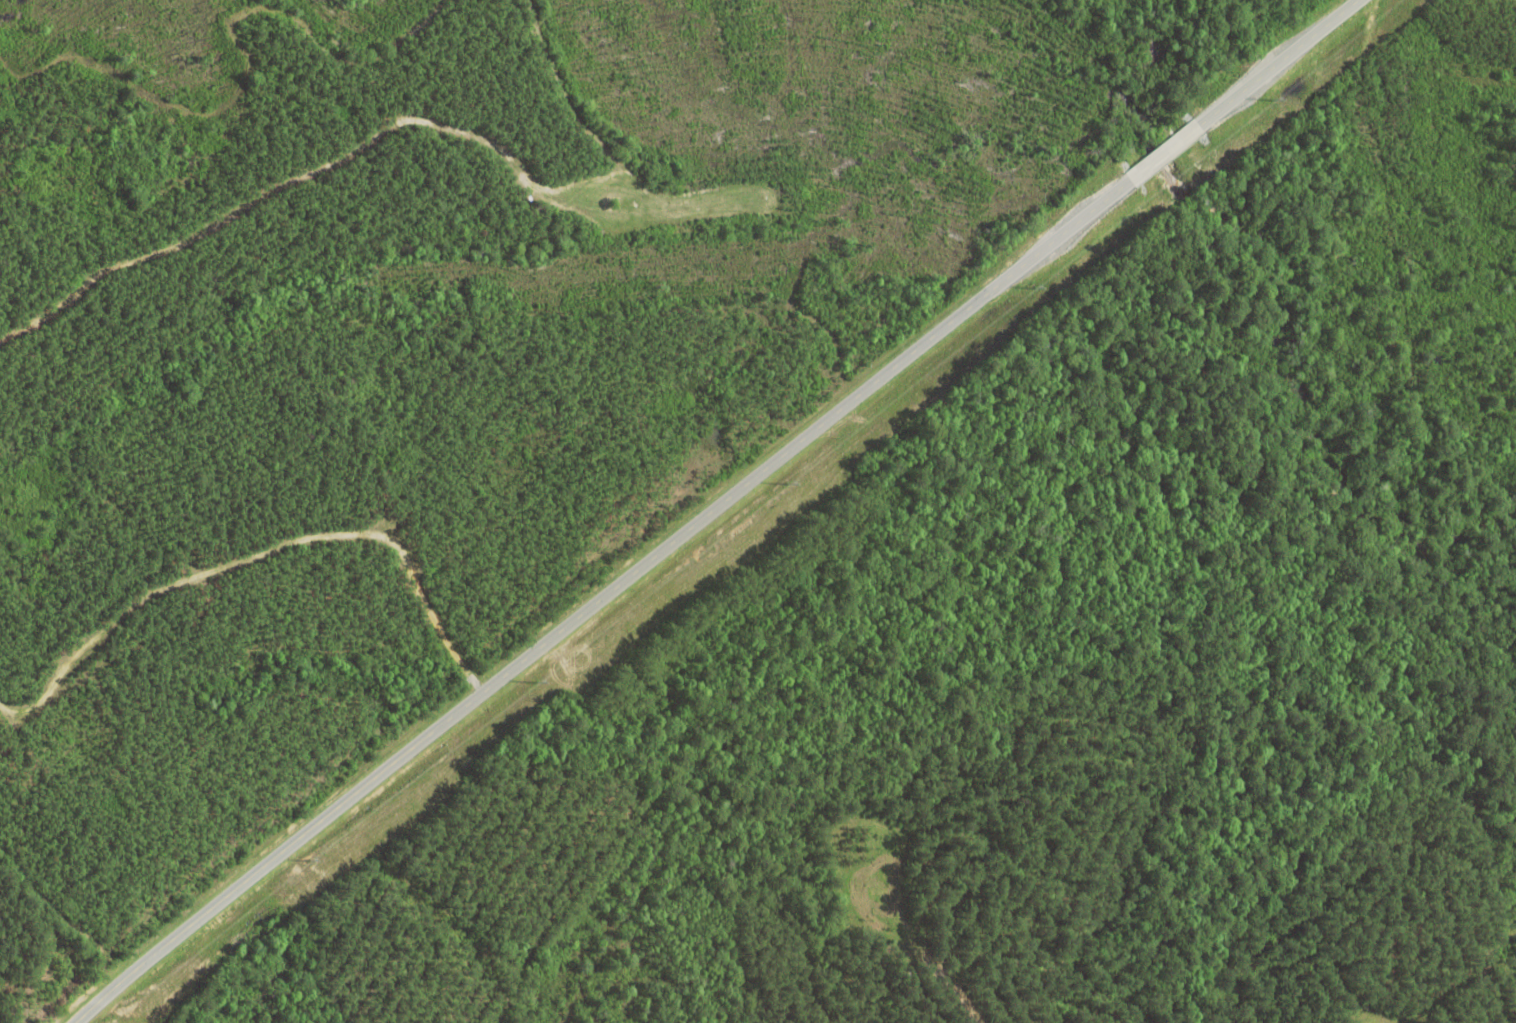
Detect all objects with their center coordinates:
road: (1280, 62)
road: (1166, 152)
road: (601, 598)

